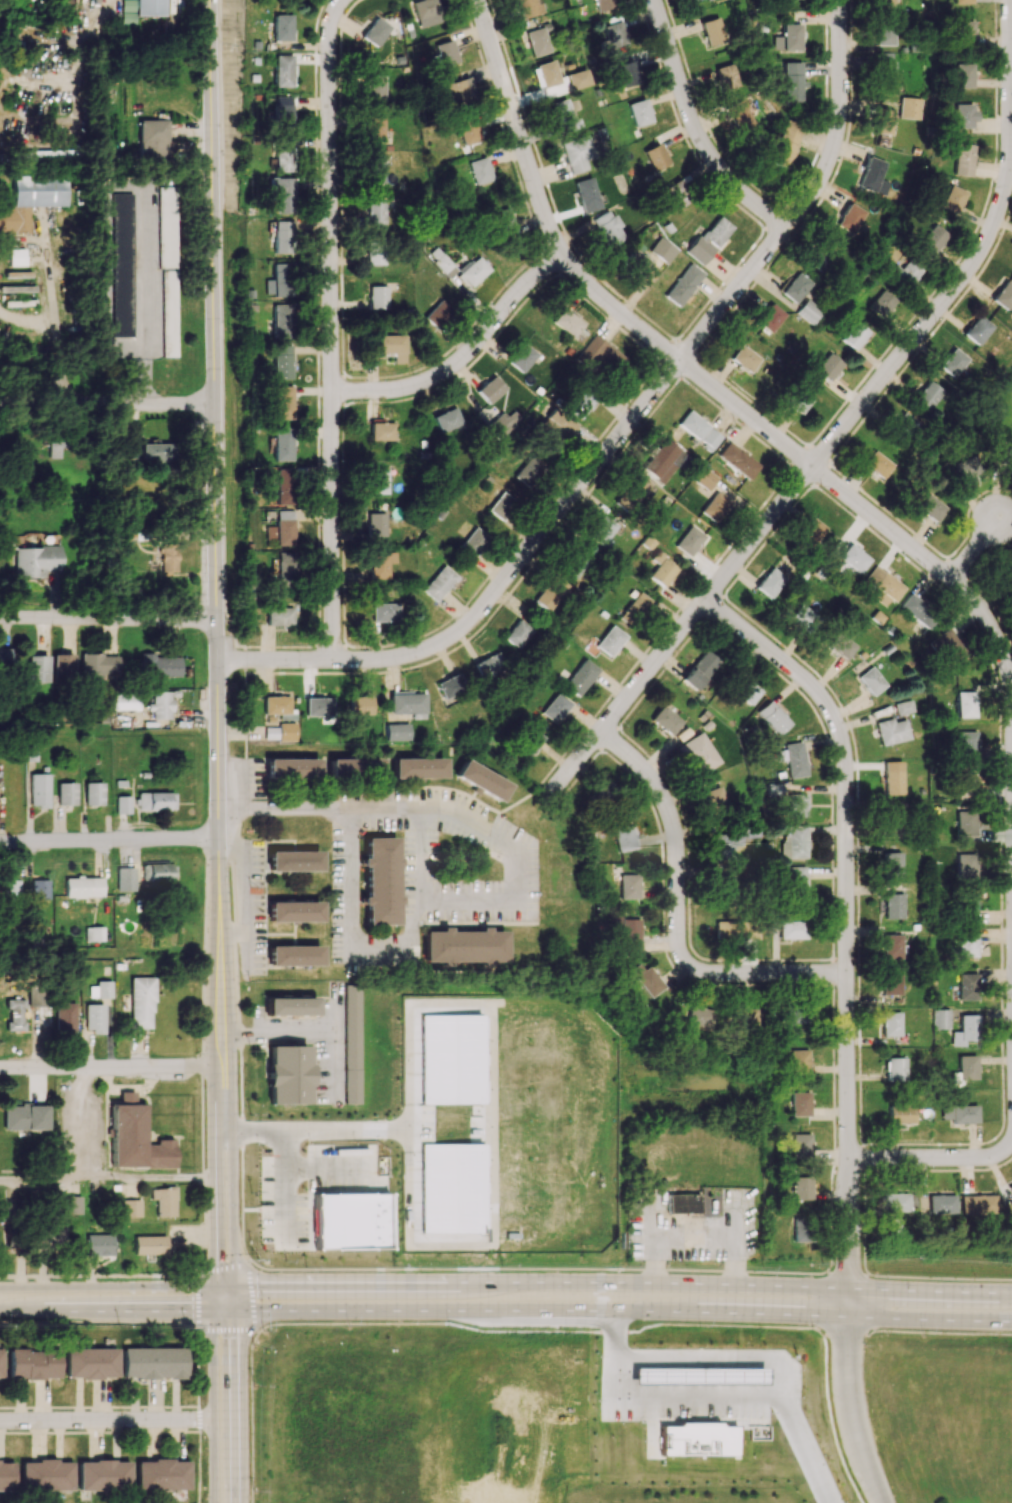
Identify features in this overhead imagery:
building: (694, 0)
building: (884, 1)
building: (961, 1)
building: (604, 4)
building: (143, 7)
building: (527, 7)
building: (423, 8)
building: (282, 27)
building: (885, 30)
building: (374, 32)
building: (712, 32)
building: (19, 34)
building: (616, 34)
building: (963, 34)
building: (788, 38)
building: (536, 41)
building: (444, 53)
building: (885, 69)
building: (282, 70)
building: (545, 74)
building: (627, 74)
building: (961, 75)
building: (727, 77)
building: (577, 79)
building: (791, 80)
building: (374, 87)
building: (459, 92)
building: (908, 108)
building: (640, 112)
building: (962, 115)
building: (282, 116)
building: (562, 116)
building: (742, 117)
road: (840, 120)
building: (882, 127)
building: (374, 129)
road: (696, 129)
building: (468, 131)
building: (154, 141)
building: (785, 145)
building: (577, 154)
building: (51, 155)
building: (656, 157)
building: (282, 159)
building: (962, 159)
building: (374, 170)
building: (479, 170)
building: (870, 174)
building: (677, 193)
building: (279, 195)
building: (586, 195)
building: (950, 199)
building: (32, 201)
building: (375, 212)
building: (849, 218)
building: (502, 221)
building: (166, 227)
building: (607, 228)
building: (716, 231)
road: (995, 231)
building: (282, 237)
building: (930, 239)
building: (662, 250)
building: (698, 250)
building: (374, 252)
building: (17, 257)
building: (820, 257)
building: (637, 262)
building: (121, 264)
building: (444, 265)
building: (472, 270)
building: (279, 280)
building: (683, 284)
building: (795, 287)
building: (1003, 295)
building: (377, 297)
road: (54, 298)
building: (878, 303)
building: (808, 311)
building: (168, 313)
building: (436, 313)
building: (769, 317)
building: (282, 320)
building: (566, 322)
road: (330, 327)
building: (976, 330)
building: (853, 335)
building: (389, 346)
building: (602, 354)
road: (465, 357)
building: (521, 358)
building: (744, 358)
building: (281, 362)
building: (951, 362)
building: (827, 366)
road: (693, 371)
road: (56, 385)
building: (489, 390)
building: (927, 395)
building: (282, 400)
building: (797, 401)
building: (580, 404)
road: (56, 405)
road: (164, 408)
building: (447, 419)
building: (692, 424)
building: (557, 425)
building: (499, 426)
building: (381, 430)
building: (709, 439)
building: (282, 444)
building: (57, 448)
building: (156, 452)
building: (737, 460)
building: (660, 461)
building: (877, 465)
building: (527, 470)
building: (967, 471)
building: (705, 478)
building: (378, 480)
building: (282, 486)
building: (141, 488)
building: (632, 492)
building: (502, 506)
building: (714, 507)
building: (930, 508)
road: (217, 518)
building: (376, 524)
road: (550, 528)
building: (281, 529)
building: (601, 531)
building: (809, 532)
road: (759, 535)
building: (689, 540)
building: (473, 541)
road: (973, 545)
building: (169, 556)
building: (853, 558)
building: (36, 561)
building: (574, 562)
building: (380, 565)
building: (284, 569)
building: (662, 569)
building: (438, 583)
building: (770, 583)
building: (883, 585)
building: (551, 594)
building: (634, 610)
building: (917, 610)
building: (384, 612)
building: (279, 617)
building: (804, 618)
road: (109, 620)
building: (516, 634)
building: (610, 640)
building: (836, 644)
building: (948, 648)
building: (4, 658)
building: (99, 666)
building: (159, 666)
building: (63, 667)
building: (38, 668)
building: (487, 668)
building: (699, 670)
building: (580, 677)
building: (870, 680)
building: (448, 686)
building: (745, 689)
building: (126, 701)
building: (277, 704)
building: (409, 704)
building: (965, 704)
building: (161, 705)
building: (360, 705)
building: (318, 706)
building: (904, 707)
building: (555, 708)
building: (773, 717)
building: (665, 720)
building: (892, 731)
building: (281, 732)
building: (396, 732)
building: (528, 741)
building: (967, 743)
building: (32, 752)
building: (697, 754)
building: (793, 759)
building: (292, 768)
building: (354, 768)
building: (417, 768)
building: (892, 777)
building: (480, 780)
building: (965, 785)
building: (774, 789)
building: (39, 790)
building: (66, 793)
building: (93, 793)
building: (600, 793)
building: (713, 798)
building: (155, 801)
building: (122, 804)
building: (797, 805)
road: (284, 811)
building: (966, 822)
building: (625, 838)
building: (731, 839)
building: (794, 841)
road: (110, 842)
road: (496, 843)
building: (293, 861)
building: (890, 864)
building: (967, 865)
building: (157, 872)
building: (380, 881)
building: (722, 882)
building: (796, 882)
building: (629, 886)
building: (83, 887)
building: (10, 889)
building: (40, 889)
building: (892, 905)
building: (967, 906)
building: (293, 911)
building: (613, 917)
road: (679, 917)
building: (735, 930)
building: (791, 930)
road: (850, 930)
building: (94, 933)
building: (629, 934)
building: (463, 945)
building: (967, 945)
building: (891, 946)
building: (293, 955)
building: (644, 979)
building: (891, 981)
building: (967, 986)
building: (101, 989)
building: (35, 996)
building: (140, 1002)
building: (290, 1006)
building: (797, 1013)
building: (15, 1015)
building: (65, 1016)
building: (94, 1017)
building: (697, 1018)
building: (740, 1018)
building: (940, 1018)
building: (891, 1024)
building: (966, 1030)
road: (299, 1031)
building: (351, 1044)
road: (222, 1050)
building: (798, 1061)
road: (336, 1063)
road: (111, 1065)
building: (967, 1067)
building: (893, 1069)
building: (288, 1074)
building: (799, 1103)
building: (958, 1113)
building: (899, 1114)
building: (25, 1117)
road: (289, 1130)
road: (377, 1130)
building: (135, 1138)
building: (800, 1145)
road: (932, 1158)
road: (231, 1173)
road: (215, 1174)
road: (284, 1179)
road: (108, 1180)
building: (800, 1188)
building: (1009, 1189)
building: (163, 1201)
building: (893, 1202)
building: (683, 1203)
building: (70, 1204)
building: (939, 1204)
building: (975, 1204)
building: (1010, 1204)
building: (130, 1208)
building: (349, 1220)
building: (801, 1227)
building: (892, 1227)
building: (50, 1237)
building: (11, 1238)
building: (98, 1245)
building: (148, 1245)
road: (504, 1266)
road: (506, 1282)
traffic signals: (234, 1285)
traffic signals: (216, 1286)
road: (251, 1296)
road: (196, 1300)
traffic signals: (212, 1310)
traffic signals: (235, 1310)
road: (506, 1310)
road: (506, 1322)
road: (710, 1356)
building: (89, 1362)
building: (152, 1362)
building: (0, 1363)
building: (33, 1363)
road: (235, 1393)
road: (212, 1394)
road: (716, 1395)
road: (851, 1412)
road: (106, 1419)
building: (46, 1475)
building: (103, 1475)
building: (161, 1475)
building: (6, 1476)

